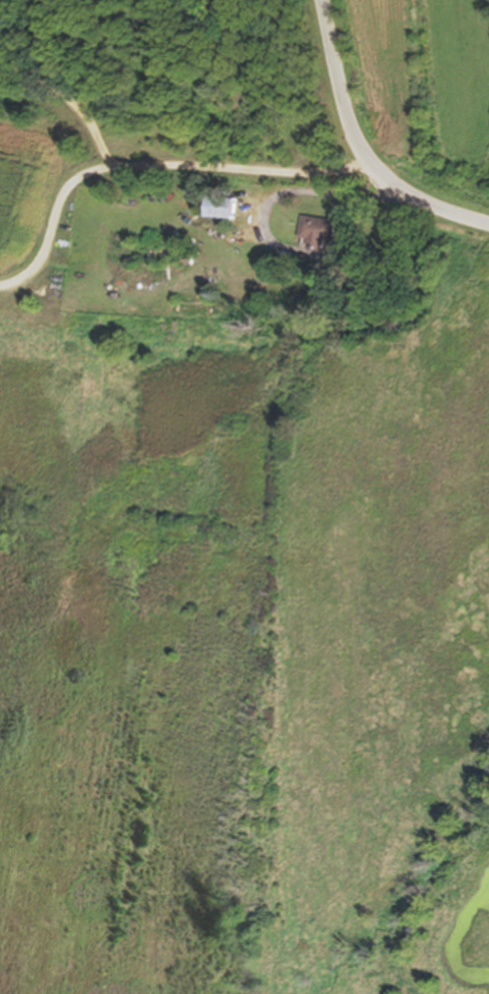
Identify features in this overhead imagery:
road: (72, 95)
road: (359, 147)
road: (151, 164)
building: (217, 207)
building: (316, 228)
road: (269, 242)
building: (193, 307)

